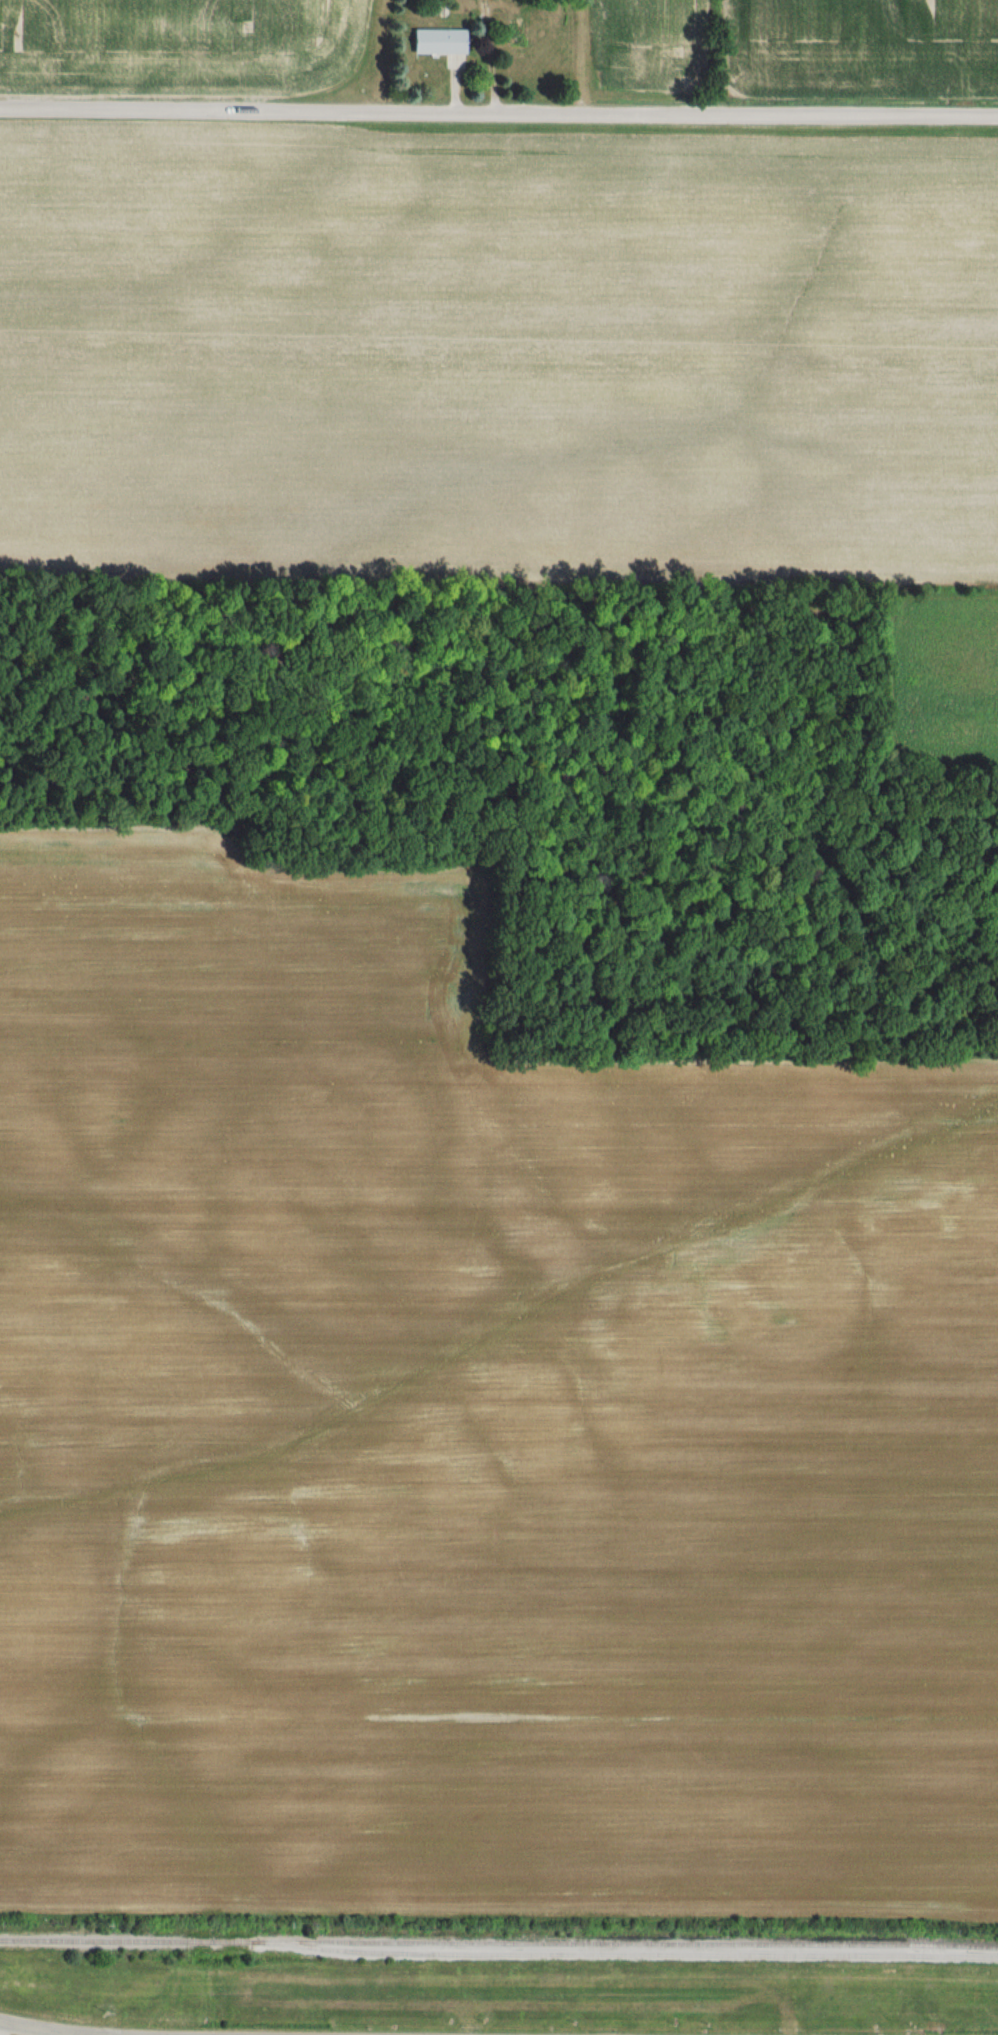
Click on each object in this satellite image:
building: (437, 41)
road: (499, 112)
railway: (499, 1942)
railway: (632, 1954)
road: (43, 2029)

